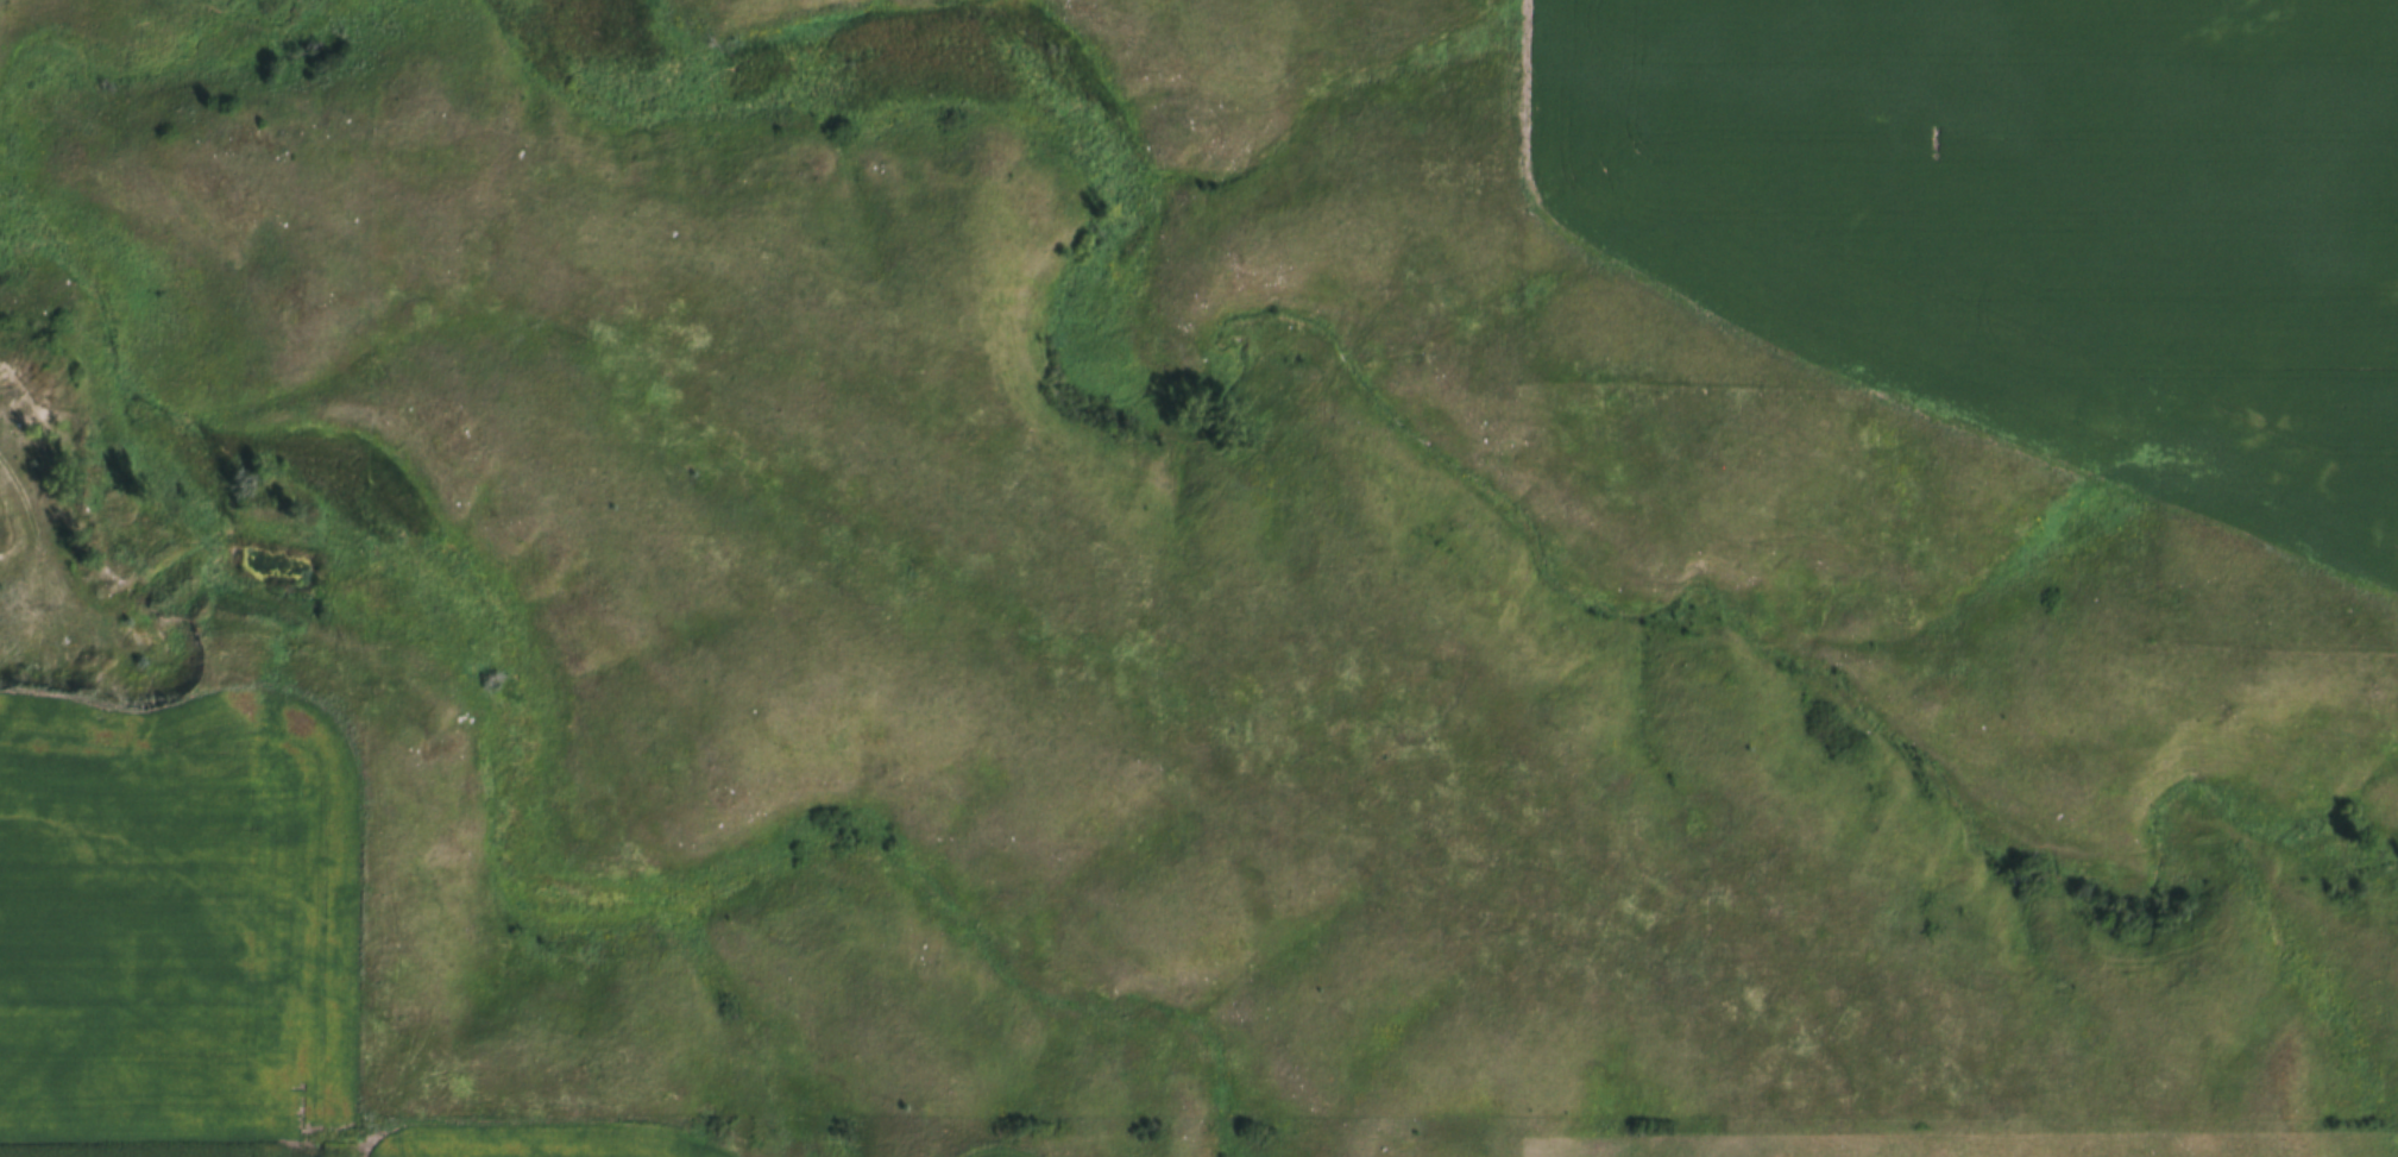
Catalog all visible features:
road: (1198, 1133)

